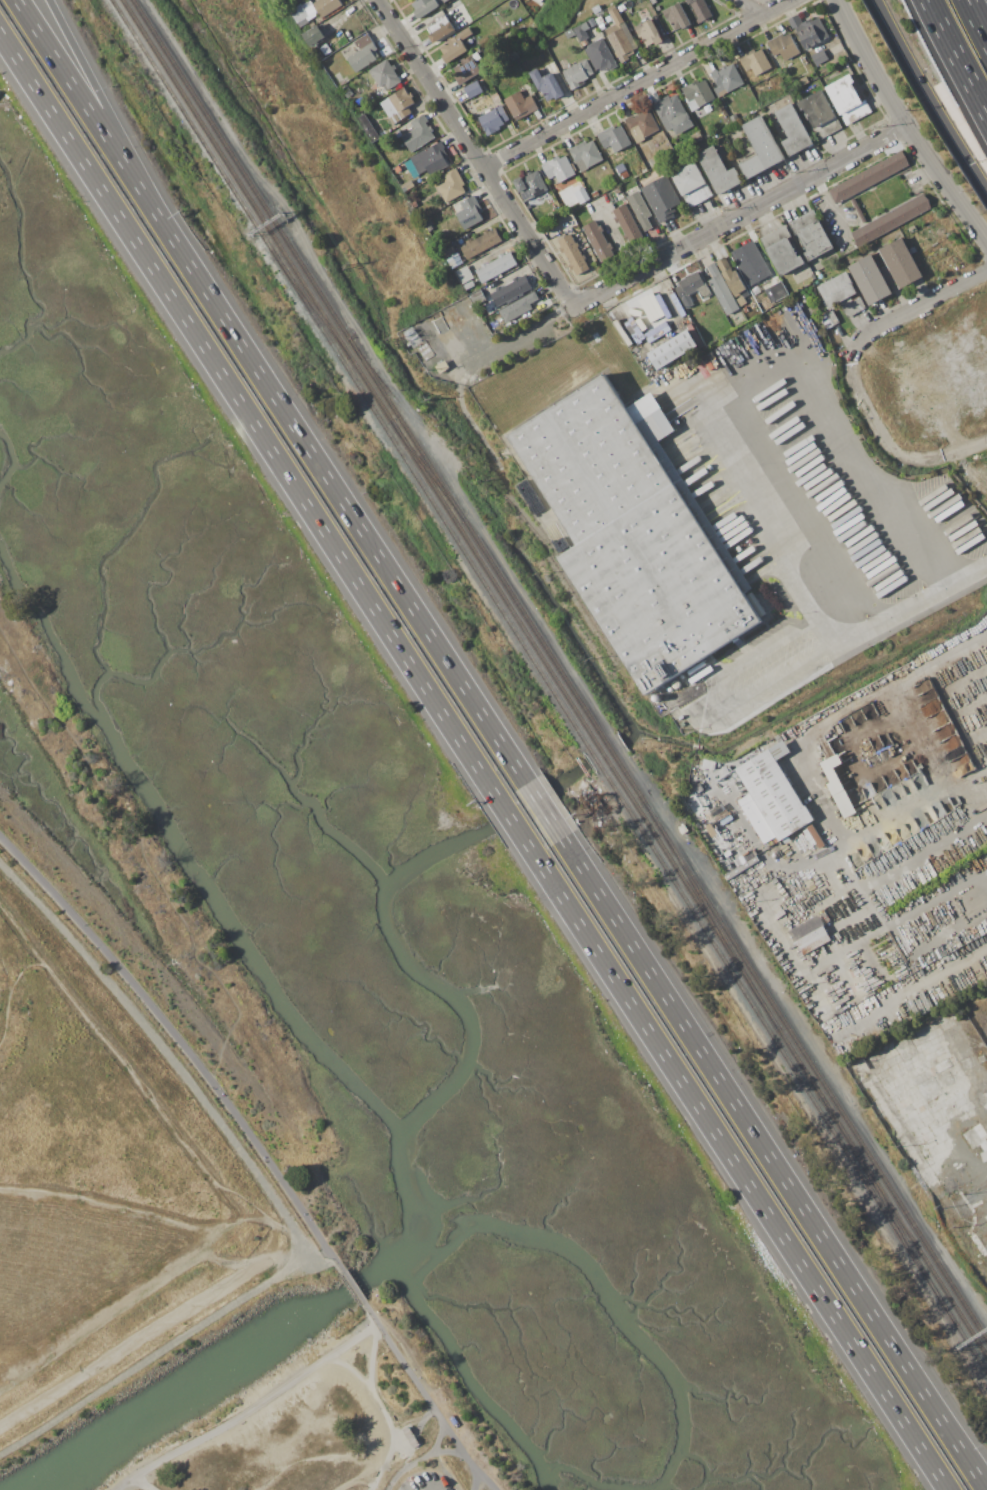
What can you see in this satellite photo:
building: (539, 1)
building: (653, 1)
building: (691, 1)
building: (648, 4)
building: (327, 6)
building: (426, 6)
building: (621, 7)
building: (658, 8)
road: (750, 8)
building: (701, 10)
building: (300, 16)
building: (677, 16)
road: (976, 20)
building: (524, 22)
building: (595, 25)
building: (442, 27)
building: (582, 31)
building: (809, 32)
building: (569, 33)
building: (649, 33)
building: (314, 35)
building: (620, 35)
building: (456, 45)
building: (782, 48)
building: (364, 54)
building: (601, 56)
building: (820, 57)
road: (956, 57)
building: (755, 61)
building: (467, 68)
building: (578, 73)
building: (385, 74)
building: (728, 77)
building: (801, 82)
road: (638, 84)
building: (547, 85)
building: (474, 89)
building: (346, 90)
building: (698, 93)
road: (930, 94)
building: (848, 100)
building: (398, 105)
road: (105, 106)
building: (522, 106)
road: (85, 107)
building: (820, 113)
building: (673, 114)
building: (493, 120)
building: (642, 124)
road: (906, 126)
building: (368, 128)
building: (793, 129)
building: (708, 131)
building: (418, 133)
building: (696, 137)
building: (616, 139)
building: (760, 148)
building: (450, 150)
road: (473, 152)
building: (585, 155)
building: (430, 159)
building: (558, 167)
building: (719, 170)
building: (622, 171)
building: (869, 177)
building: (692, 184)
building: (408, 185)
building: (531, 185)
building: (452, 186)
building: (617, 190)
building: (595, 194)
building: (587, 198)
building: (662, 198)
building: (640, 210)
road: (833, 211)
building: (470, 213)
railway: (260, 215)
road: (739, 217)
building: (891, 219)
building: (628, 224)
building: (429, 227)
building: (912, 229)
building: (811, 234)
building: (599, 241)
building: (480, 243)
building: (448, 248)
building: (782, 250)
railway: (297, 254)
building: (574, 254)
building: (901, 262)
building: (751, 263)
building: (496, 266)
building: (596, 266)
building: (464, 274)
building: (733, 278)
building: (870, 279)
railway: (291, 280)
building: (469, 285)
building: (692, 288)
building: (512, 290)
building: (778, 290)
building: (838, 290)
building: (722, 291)
building: (478, 298)
building: (741, 301)
railway: (313, 306)
road: (917, 306)
building: (519, 307)
building: (853, 307)
building: (746, 310)
building: (439, 314)
building: (830, 319)
building: (496, 320)
building: (419, 343)
road: (497, 344)
building: (673, 349)
building: (441, 365)
road: (749, 371)
road: (869, 413)
road: (949, 455)
railway: (428, 471)
building: (526, 488)
railway: (519, 513)
building: (636, 533)
road: (775, 679)
railway: (568, 683)
railway: (579, 718)
road: (917, 735)
building: (946, 736)
road: (472, 762)
road: (808, 767)
building: (838, 787)
building: (712, 793)
building: (771, 797)
building: (707, 819)
building: (683, 829)
building: (816, 836)
road: (570, 852)
road: (983, 872)
road: (983, 882)
building: (913, 903)
railway: (720, 930)
building: (810, 934)
road: (25, 938)
road: (856, 943)
railway: (728, 967)
road: (7, 978)
road: (917, 985)
building: (871, 1029)
road: (180, 1041)
building: (857, 1065)
building: (942, 1065)
road: (138, 1079)
railway: (832, 1099)
building: (893, 1126)
building: (979, 1130)
park: (125, 1136)
building: (983, 1146)
railway: (874, 1182)
building: (956, 1183)
road: (274, 1206)
building: (980, 1208)
road: (133, 1216)
railway: (894, 1221)
building: (978, 1244)
building: (986, 1245)
road: (321, 1259)
road: (356, 1288)
road: (350, 1289)
road: (146, 1290)
road: (372, 1324)
road: (134, 1340)
road: (351, 1372)
road: (375, 1396)
road: (431, 1404)
road: (251, 1413)
park: (330, 1420)
road: (451, 1456)
road: (329, 1458)
road: (424, 1459)
road: (408, 1462)
road: (256, 1475)
road: (476, 1482)
road: (137, 1486)

